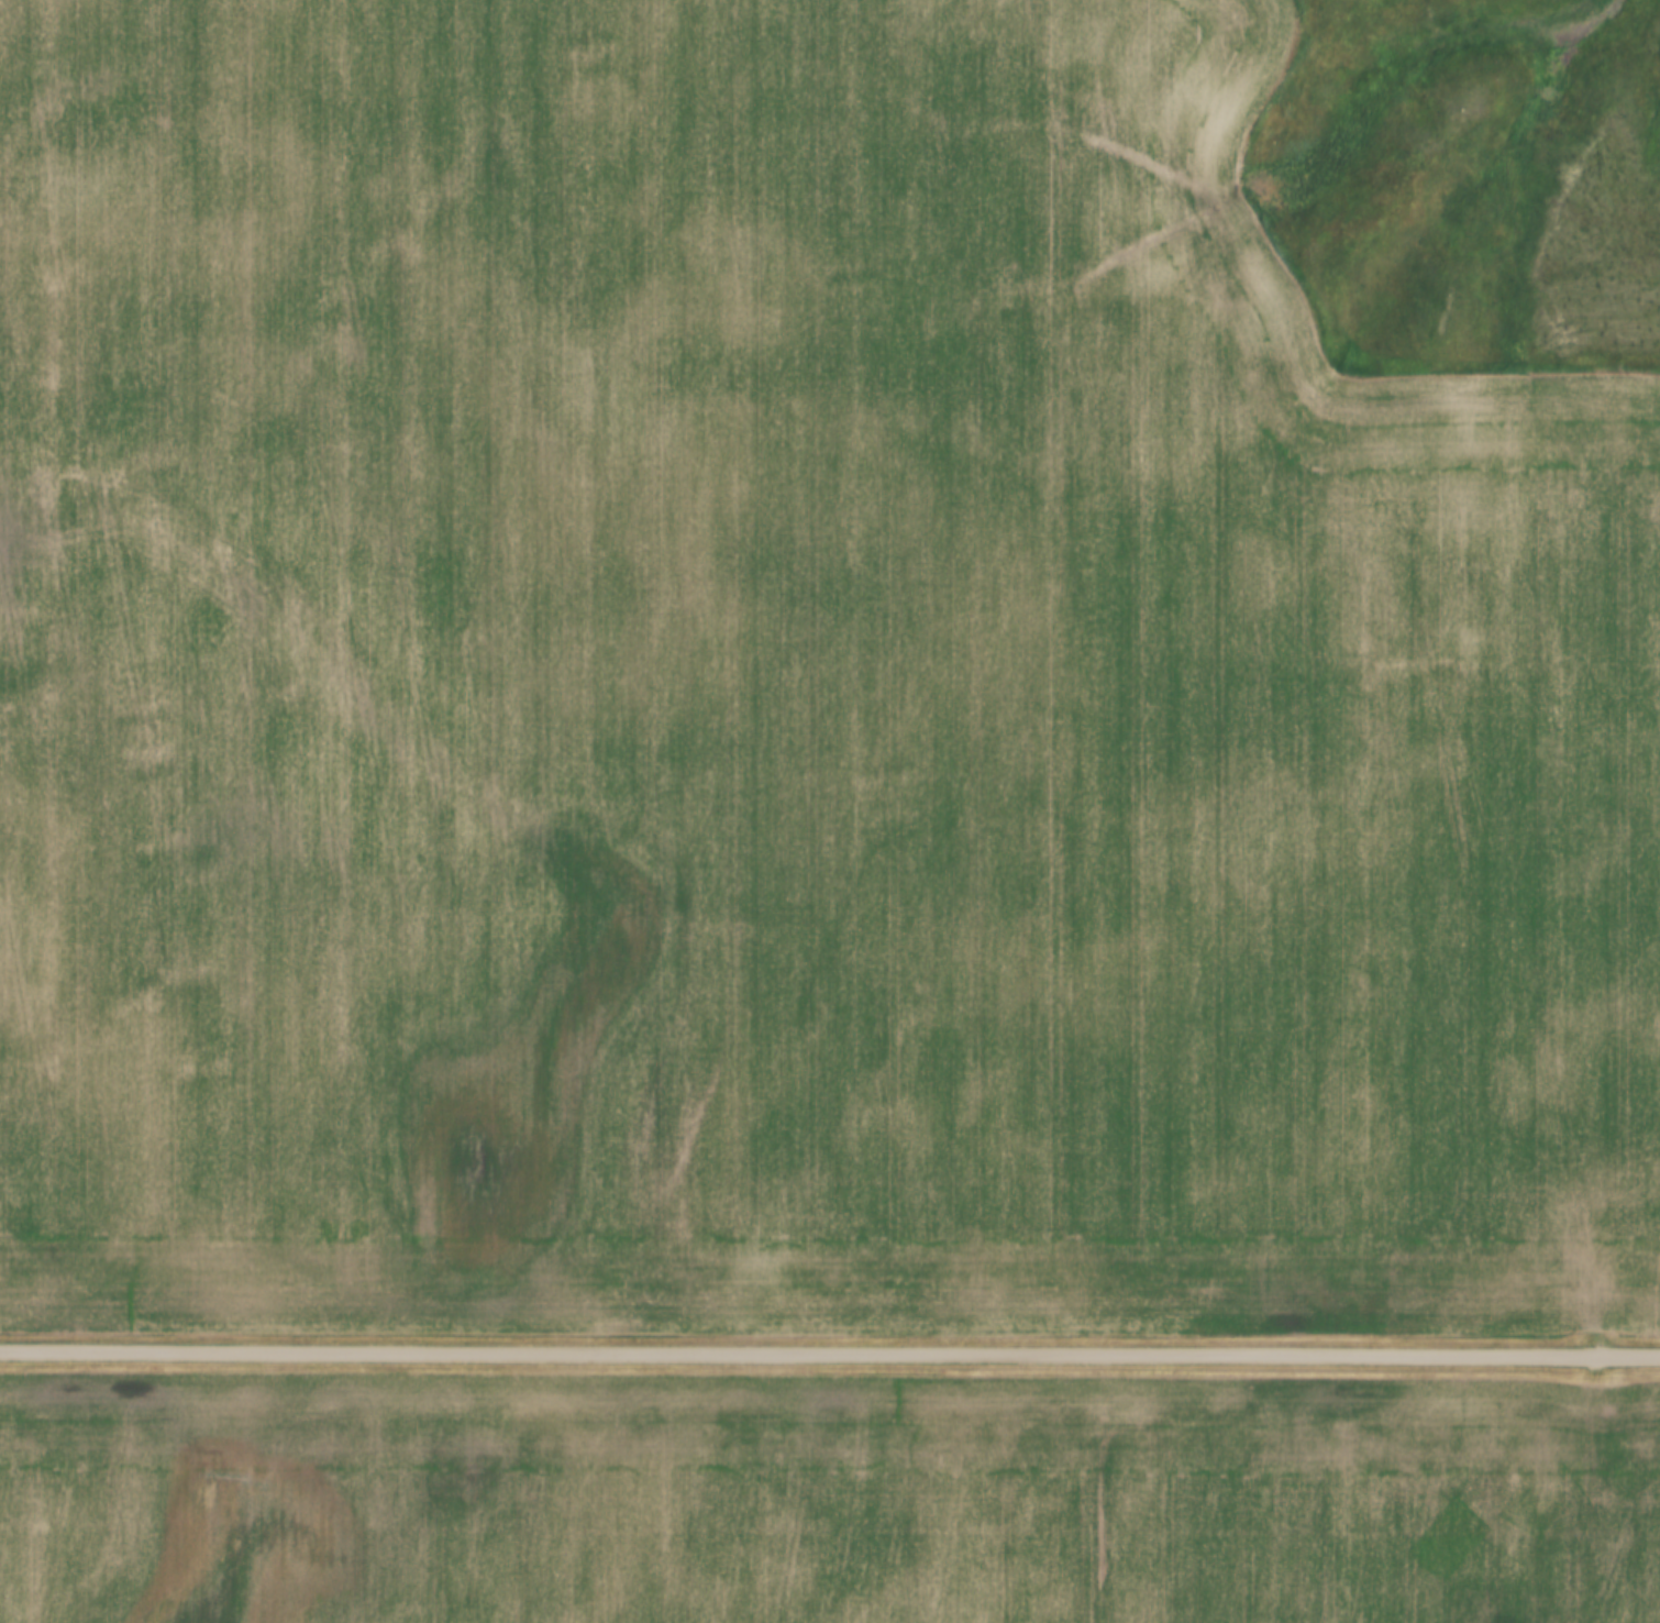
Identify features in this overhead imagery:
road: (829, 1354)

